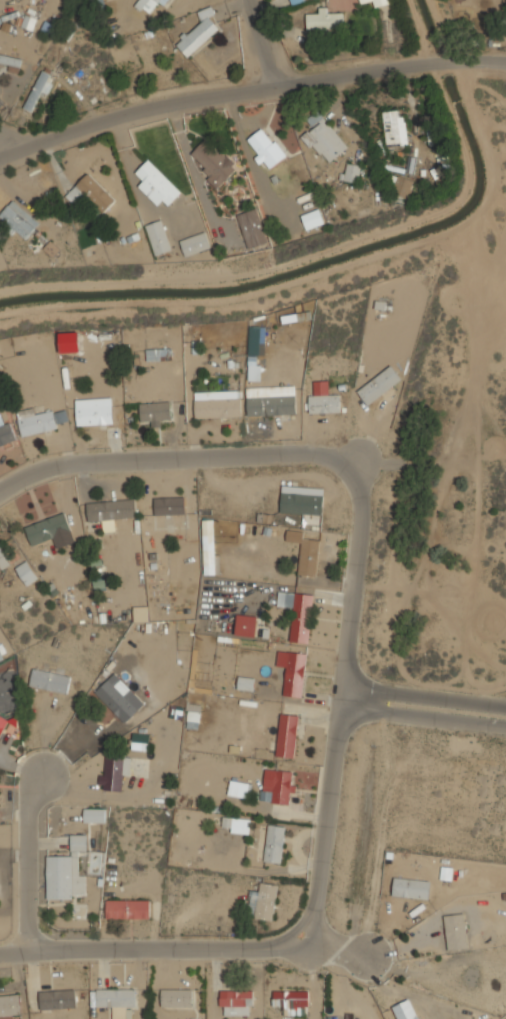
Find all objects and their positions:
building: (286, 0)
building: (362, 0)
building: (296, 1)
building: (379, 2)
building: (147, 5)
building: (325, 21)
building: (198, 33)
road: (256, 42)
building: (12, 62)
road: (248, 87)
building: (37, 91)
building: (394, 127)
building: (323, 138)
building: (265, 148)
building: (212, 162)
building: (352, 172)
building: (157, 184)
building: (401, 186)
building: (95, 192)
building: (18, 219)
building: (312, 219)
building: (252, 228)
building: (158, 237)
building: (195, 244)
building: (154, 354)
building: (379, 385)
building: (322, 398)
building: (217, 404)
building: (271, 405)
building: (154, 413)
building: (94, 415)
building: (43, 421)
building: (6, 432)
road: (179, 456)
building: (302, 500)
building: (169, 505)
building: (110, 512)
building: (48, 529)
building: (208, 547)
building: (308, 556)
road: (359, 557)
building: (3, 561)
building: (26, 572)
building: (140, 613)
building: (298, 614)
building: (246, 625)
building: (1, 656)
building: (292, 672)
road: (343, 675)
building: (50, 681)
building: (246, 684)
building: (116, 699)
road: (423, 704)
building: (193, 716)
building: (2, 724)
building: (287, 736)
building: (140, 741)
building: (120, 770)
building: (238, 789)
building: (280, 789)
building: (95, 815)
road: (327, 821)
building: (236, 825)
building: (274, 843)
road: (31, 859)
building: (66, 872)
building: (410, 888)
building: (262, 902)
building: (128, 909)
building: (455, 931)
road: (156, 946)
building: (176, 998)
building: (57, 999)
building: (117, 1001)
building: (291, 1001)
building: (235, 1002)
building: (9, 1005)
building: (404, 1010)

